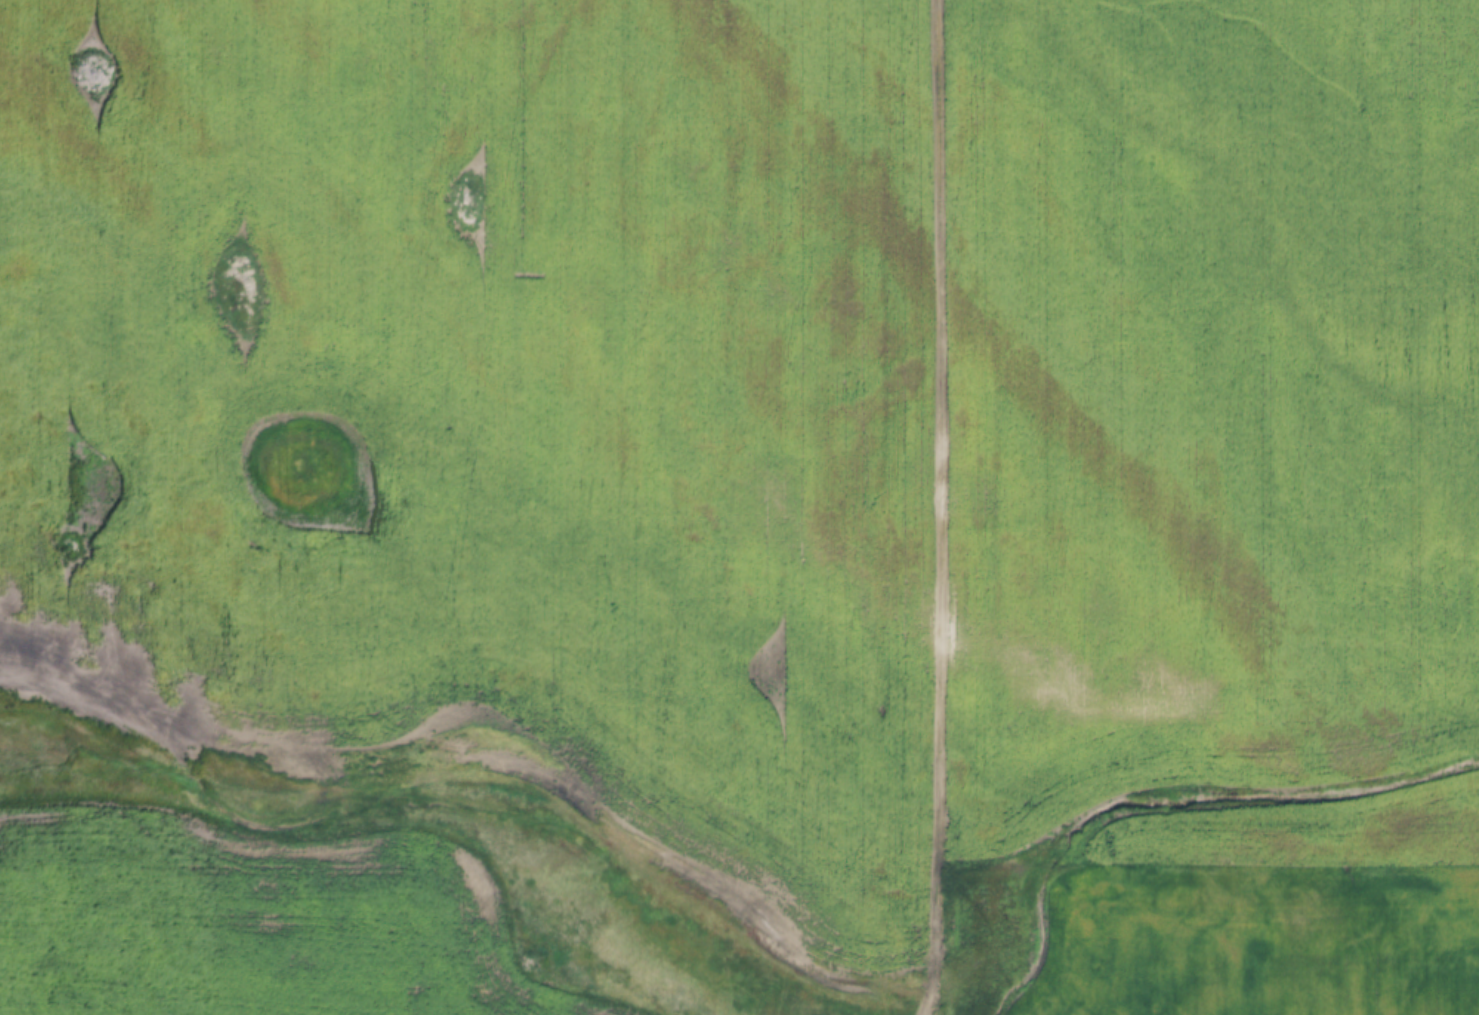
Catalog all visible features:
road: (939, 544)

